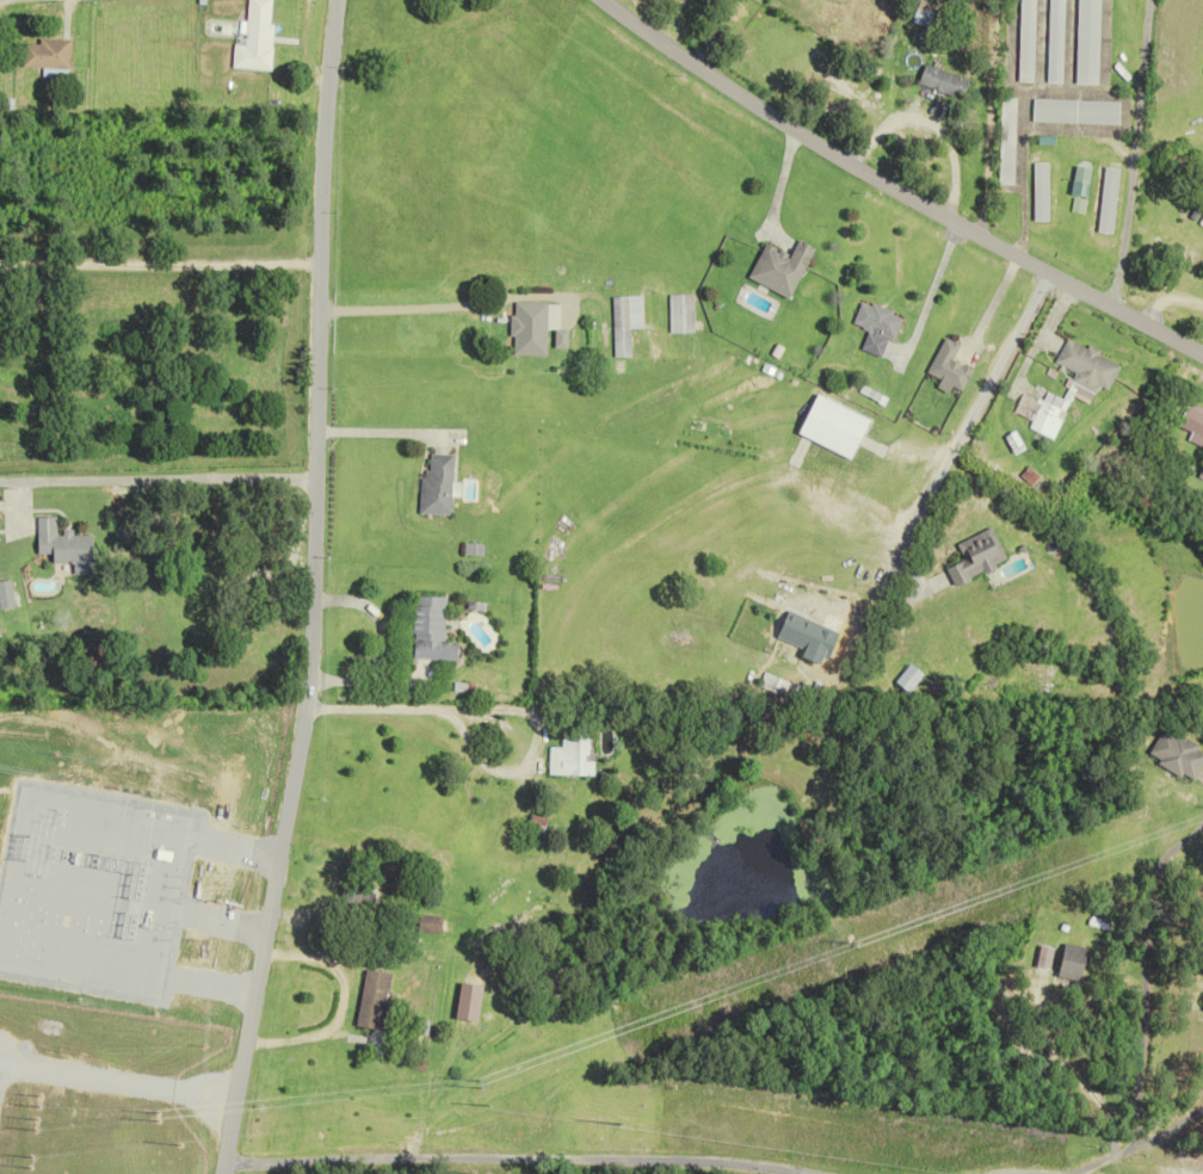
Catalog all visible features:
building: (919, 16)
building: (253, 38)
building: (1024, 41)
building: (1053, 41)
building: (1085, 42)
building: (45, 54)
building: (940, 81)
building: (1073, 111)
road: (927, 122)
building: (1004, 141)
building: (1079, 174)
road: (894, 190)
building: (1037, 191)
building: (1105, 200)
building: (779, 267)
road: (925, 291)
road: (400, 308)
building: (679, 313)
building: (623, 323)
building: (872, 326)
building: (528, 328)
building: (1082, 365)
building: (945, 366)
building: (1044, 414)
road: (957, 425)
road: (378, 434)
road: (156, 477)
building: (436, 484)
building: (64, 546)
building: (973, 557)
road: (308, 589)
building: (6, 594)
building: (791, 630)
building: (431, 631)
building: (907, 678)
building: (568, 754)
building: (1178, 754)
building: (536, 826)
building: (351, 898)
building: (427, 923)
building: (1074, 962)
building: (374, 1000)
building: (1202, 1001)
building: (469, 1002)
road: (1137, 1143)
road: (508, 1158)

